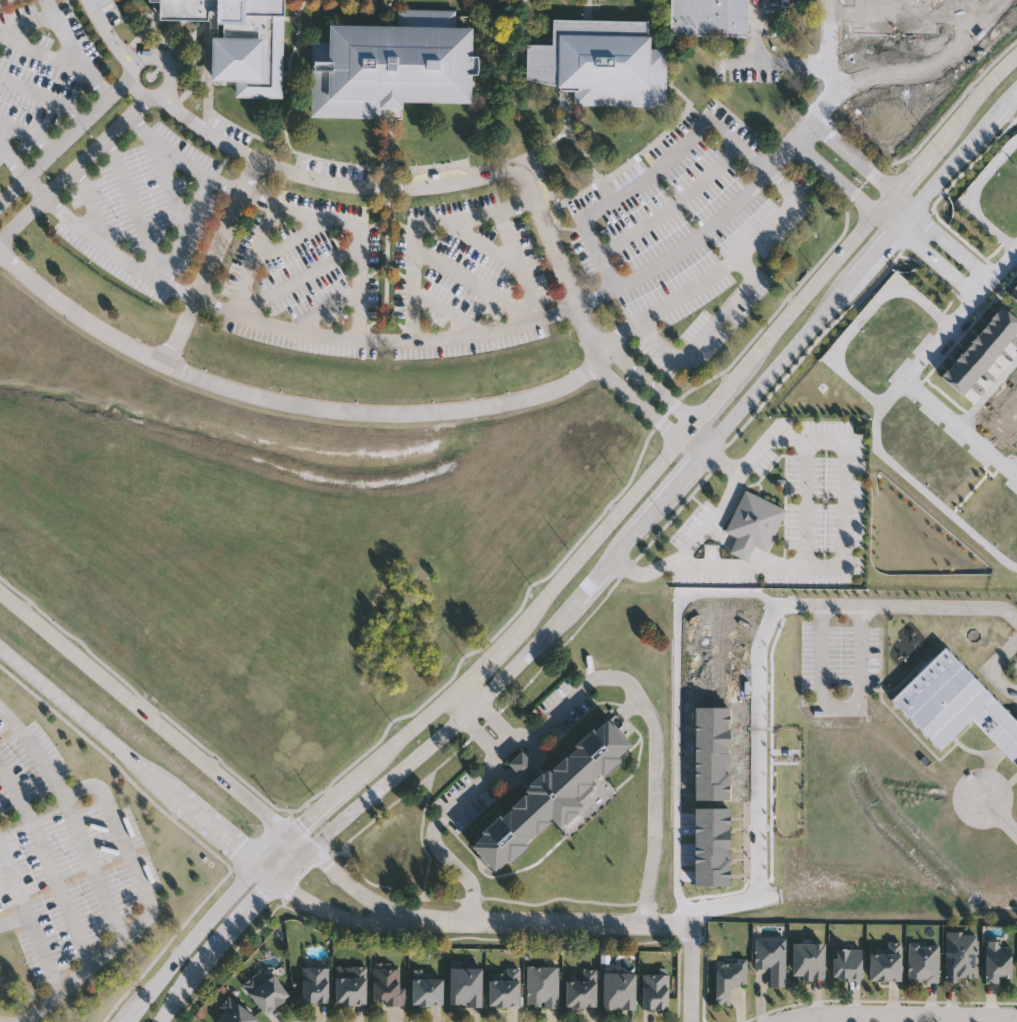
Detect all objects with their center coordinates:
road: (52, 7)
road: (588, 11)
road: (393, 13)
road: (896, 13)
road: (128, 17)
building: (707, 18)
road: (292, 19)
road: (955, 24)
road: (65, 31)
road: (111, 33)
road: (142, 34)
building: (239, 42)
road: (479, 47)
road: (48, 52)
road: (138, 60)
road: (781, 63)
building: (601, 65)
building: (392, 67)
road: (931, 67)
road: (287, 75)
parking lot: (43, 76)
road: (291, 83)
road: (45, 96)
road: (999, 110)
road: (488, 113)
road: (30, 135)
road: (65, 142)
road: (392, 148)
road: (580, 150)
road: (541, 151)
road: (854, 157)
road: (76, 170)
road: (837, 176)
road: (651, 177)
road: (938, 179)
road: (434, 183)
road: (205, 184)
road: (168, 186)
road: (226, 186)
road: (752, 187)
road: (971, 197)
road: (258, 201)
road: (93, 202)
road: (904, 202)
road: (673, 205)
road: (134, 210)
parking lot: (143, 210)
road: (317, 217)
road: (886, 221)
road: (424, 232)
parking lot: (689, 236)
road: (293, 239)
road: (487, 243)
road: (874, 252)
road: (213, 262)
road: (521, 265)
road: (717, 274)
road: (300, 277)
parking lot: (306, 279)
building: (1016, 279)
road: (474, 280)
parking lot: (468, 282)
road: (984, 288)
building: (1012, 290)
road: (324, 309)
road: (449, 312)
road: (961, 315)
road: (862, 320)
road: (259, 322)
building: (1004, 322)
road: (709, 329)
building: (995, 333)
building: (985, 345)
building: (975, 357)
road: (779, 362)
building: (965, 369)
building: (955, 381)
road: (653, 385)
building: (1014, 393)
road: (989, 395)
road: (288, 402)
road: (639, 403)
building: (1010, 406)
building: (1004, 420)
road: (961, 427)
road: (701, 435)
road: (845, 441)
road: (694, 445)
road: (723, 461)
road: (690, 470)
road: (1016, 474)
road: (916, 482)
road: (655, 510)
road: (719, 512)
building: (754, 523)
road: (625, 542)
road: (741, 547)
road: (584, 550)
road: (740, 566)
road: (595, 578)
road: (548, 583)
road: (910, 608)
building: (987, 643)
building: (709, 653)
parking lot: (837, 658)
road: (989, 669)
road: (573, 694)
building: (955, 704)
road: (680, 708)
road: (838, 709)
road: (483, 711)
road: (156, 717)
road: (465, 726)
road: (429, 745)
building: (707, 754)
road: (138, 766)
road: (519, 767)
road: (763, 783)
road: (963, 783)
building: (550, 791)
road: (71, 819)
road: (116, 827)
road: (1008, 828)
building: (707, 847)
road: (47, 868)
road: (357, 888)
road: (338, 918)
road: (12, 923)
road: (27, 923)
road: (551, 923)
road: (217, 950)
building: (772, 957)
building: (962, 957)
building: (809, 961)
building: (924, 962)
building: (848, 964)
building: (999, 964)
road: (92, 965)
building: (886, 965)
road: (692, 975)
building: (729, 978)
building: (316, 984)
building: (388, 985)
building: (352, 986)
building: (466, 986)
building: (543, 987)
building: (504, 989)
building: (428, 991)
building: (582, 991)
building: (620, 991)
building: (656, 991)
building: (267, 992)
building: (239, 1013)
road: (902, 1015)
road: (835, 1018)
road: (837, 1018)
road: (1011, 1020)

